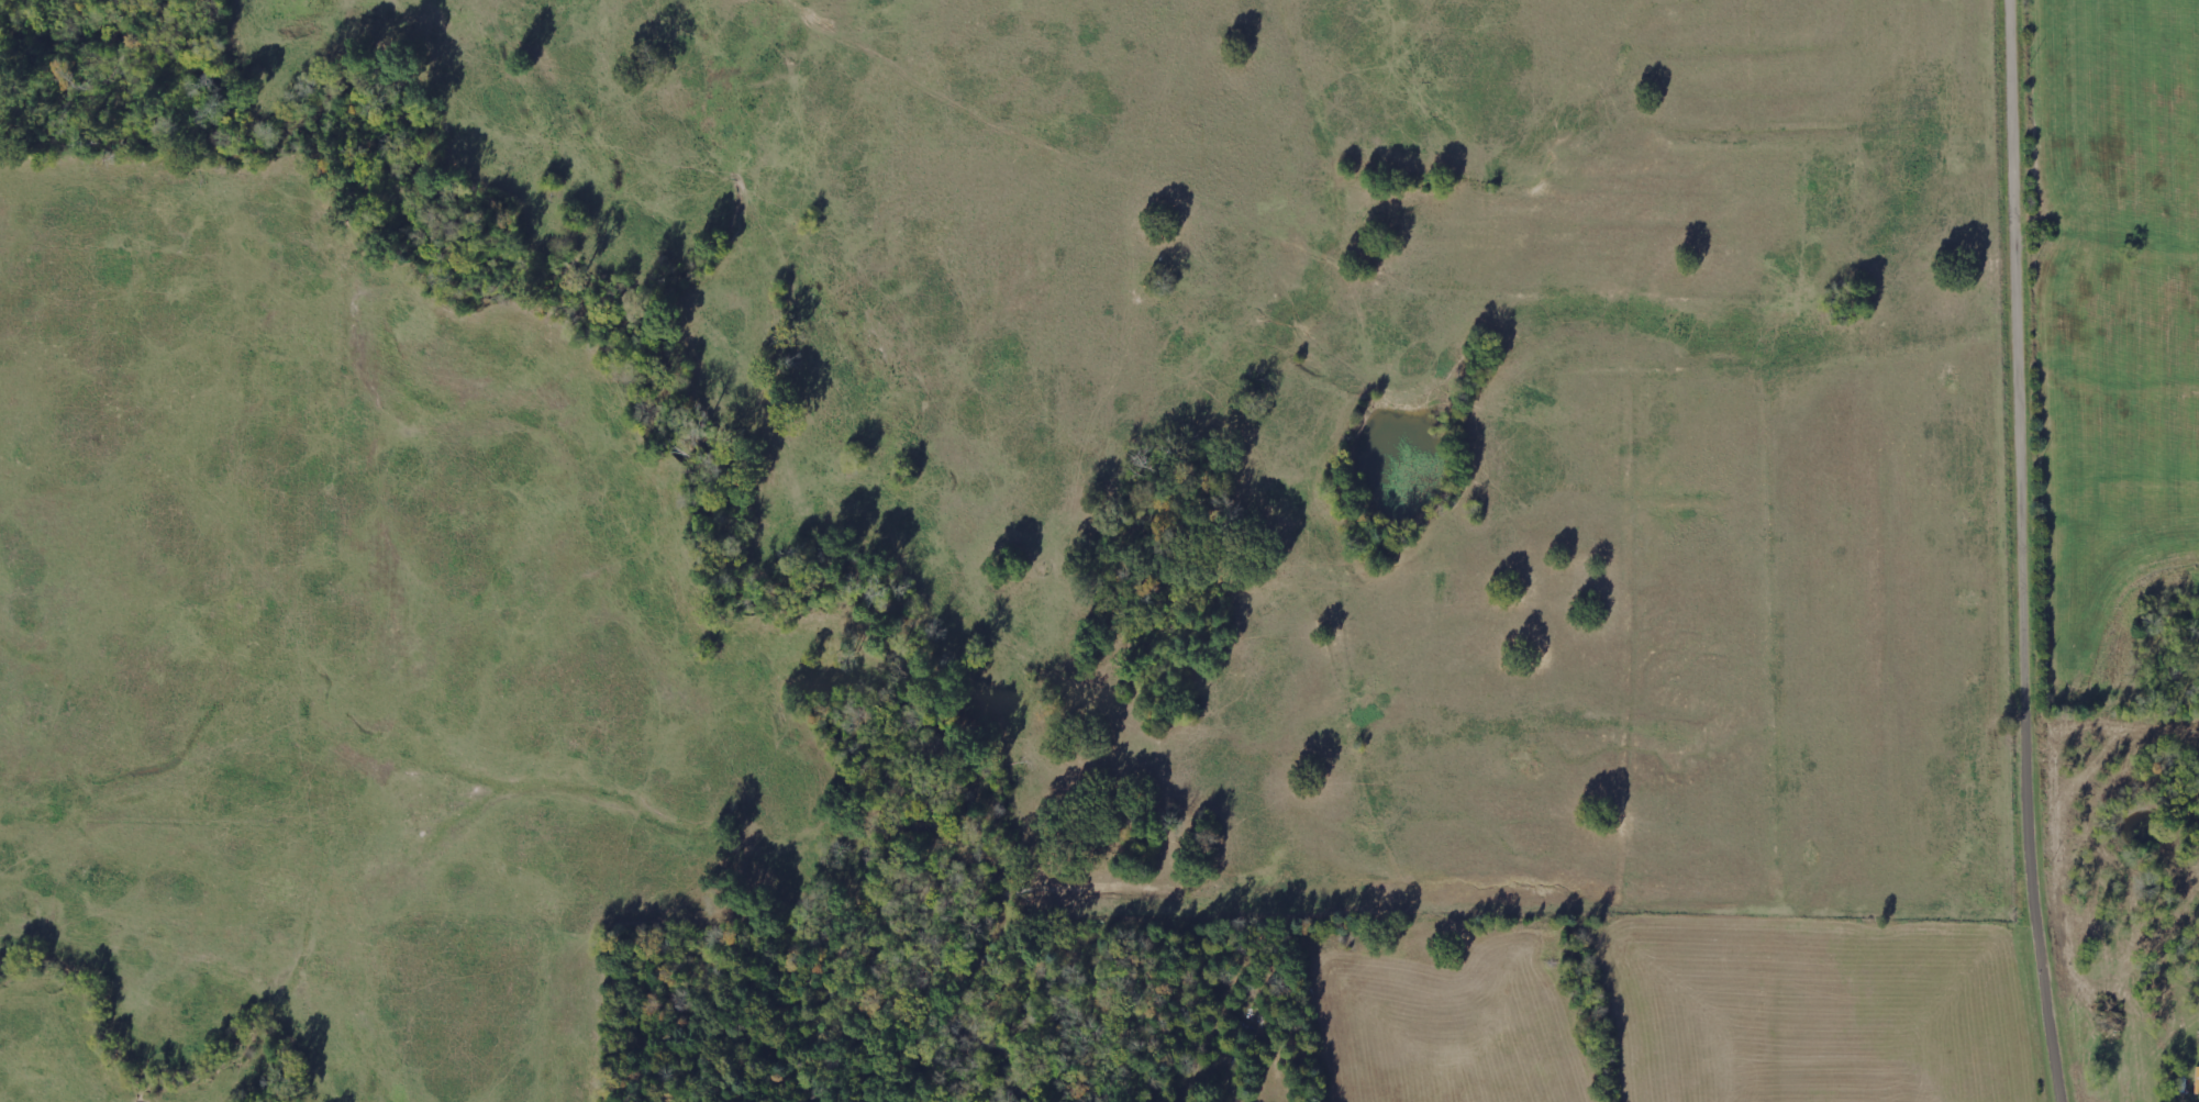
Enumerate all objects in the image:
road: (2030, 552)

